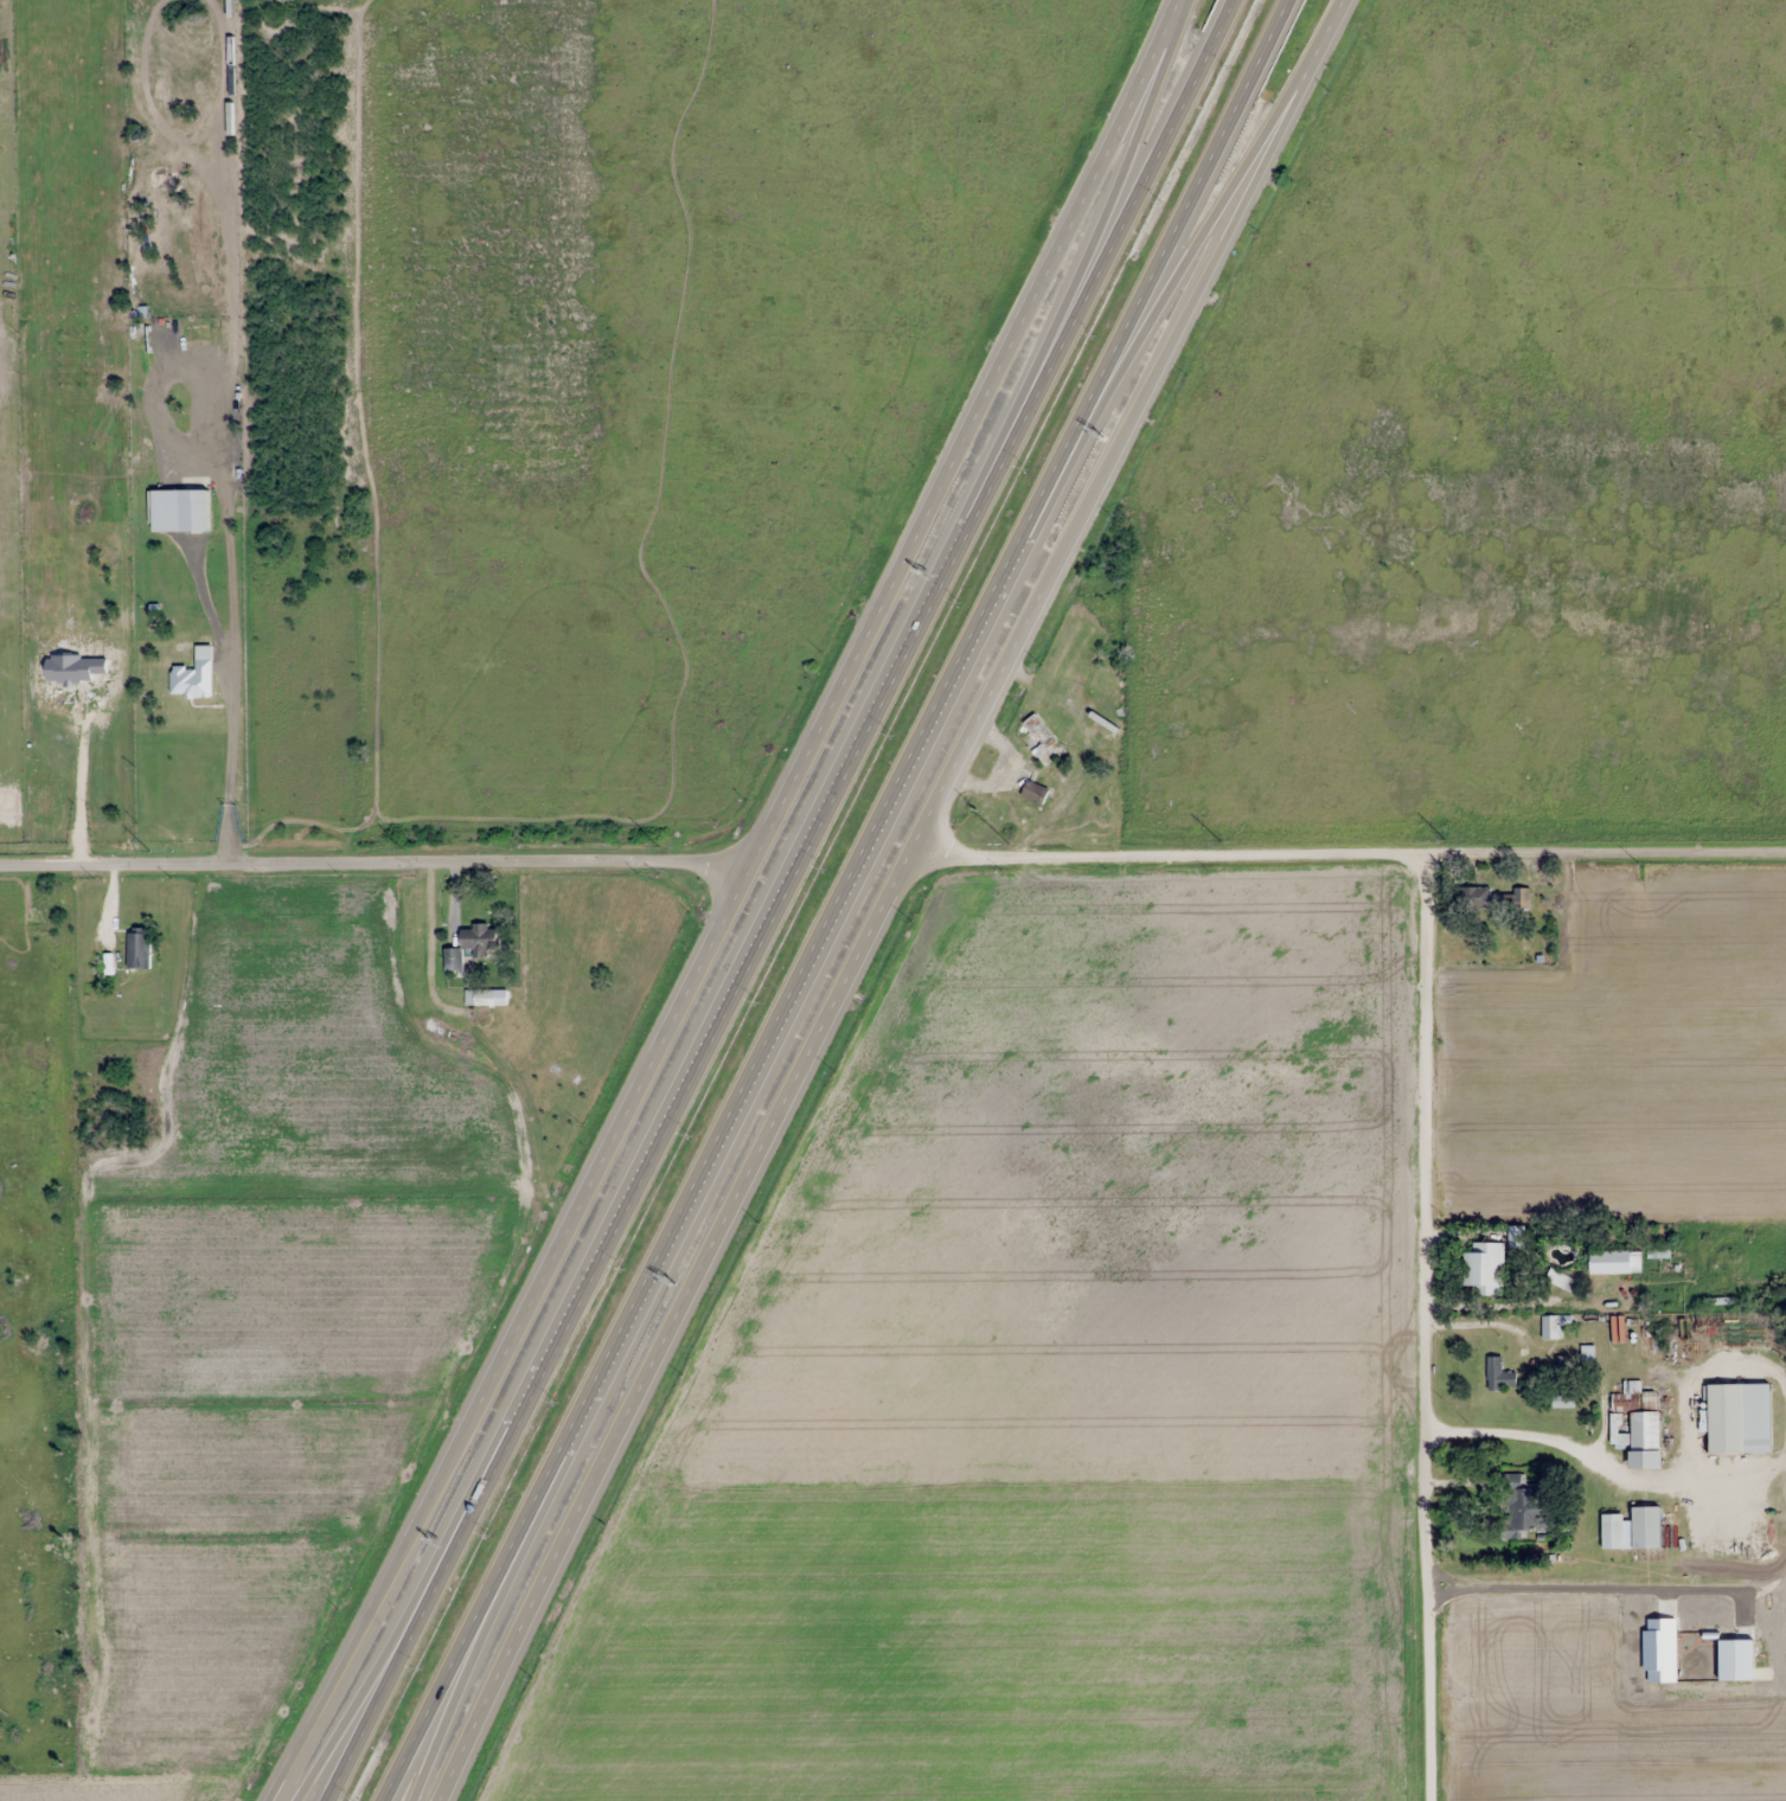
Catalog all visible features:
road: (130, 68)
road: (1094, 265)
road: (1076, 267)
road: (1180, 274)
building: (1039, 739)
building: (1035, 791)
road: (1344, 848)
road: (377, 857)
road: (884, 896)
building: (1473, 897)
building: (1521, 902)
road: (839, 903)
road: (730, 905)
building: (474, 946)
building: (137, 950)
road: (736, 976)
building: (486, 998)
building: (1615, 1262)
building: (1486, 1268)
building: (1558, 1280)
road: (1415, 1325)
building: (1551, 1327)
building: (1587, 1355)
building: (1499, 1374)
road: (23, 1386)
building: (1649, 1401)
building: (1563, 1402)
building: (1726, 1418)
building: (1635, 1428)
building: (1523, 1507)
building: (1647, 1527)
building: (1612, 1531)
road: (505, 1596)
road: (403, 1611)
road: (417, 1611)

